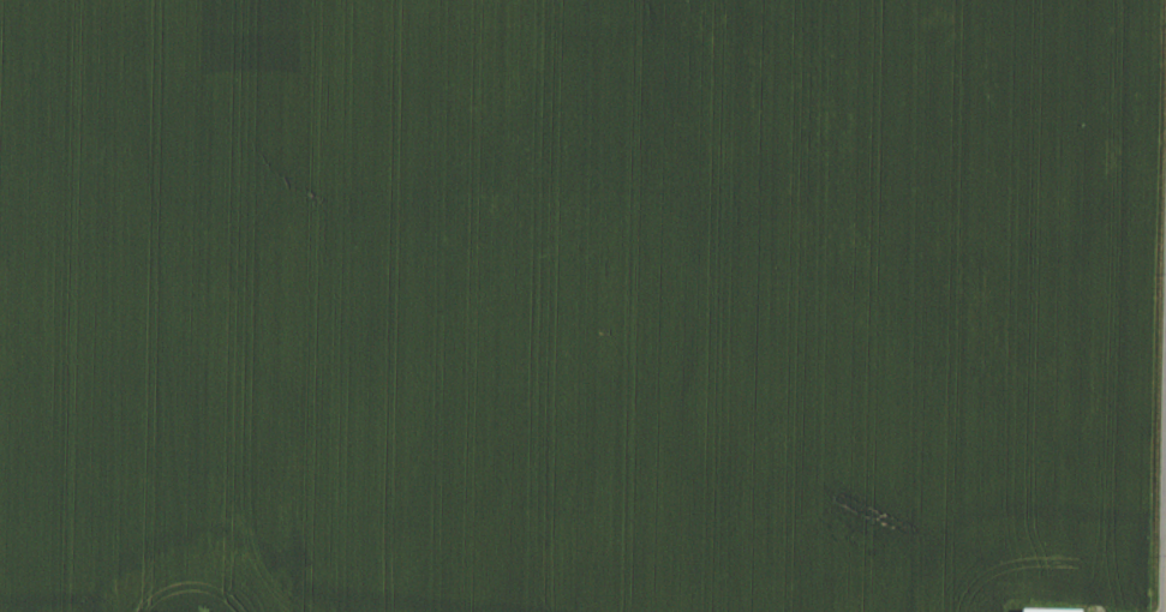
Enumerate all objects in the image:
road: (1164, 512)

